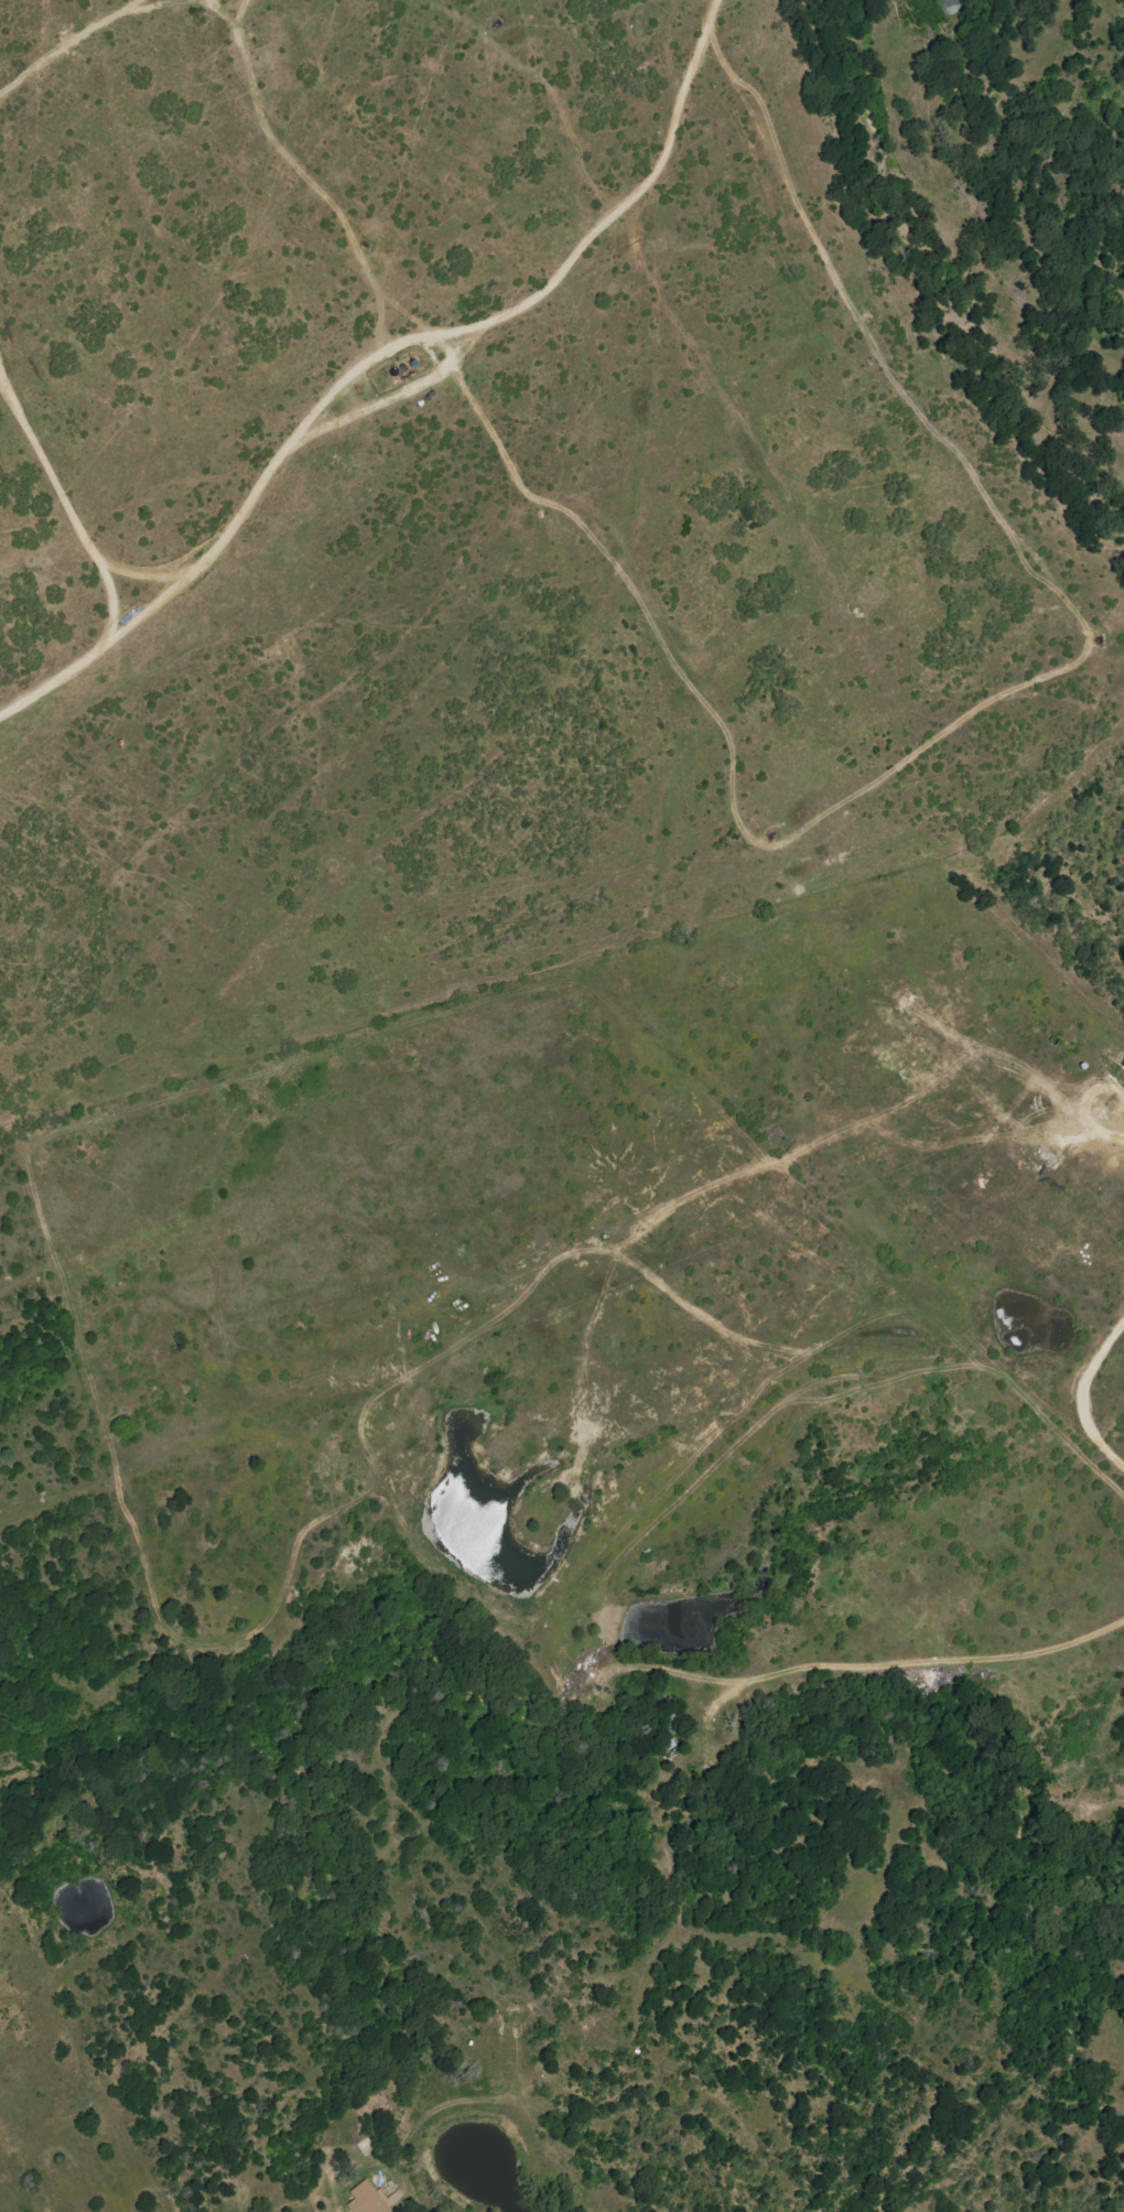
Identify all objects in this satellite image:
road: (376, 352)
road: (759, 2197)
building: (366, 2199)
road: (309, 2200)

